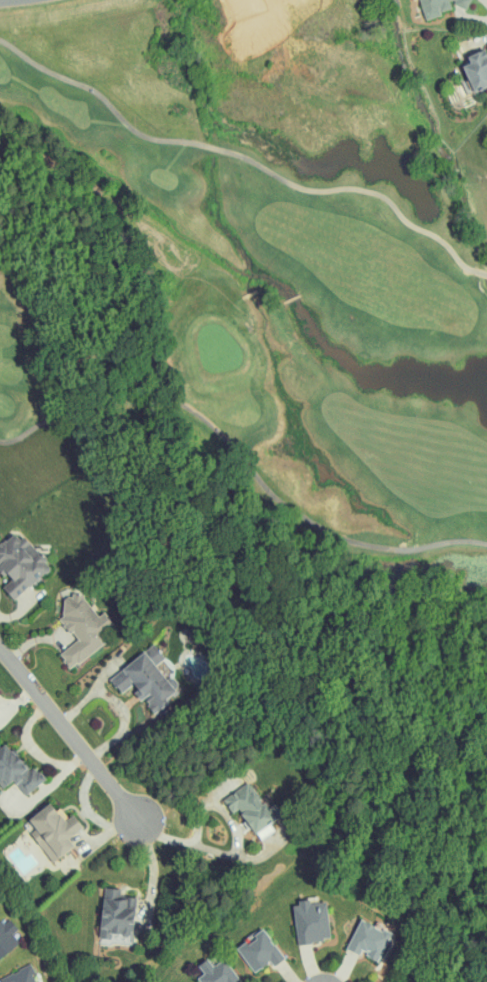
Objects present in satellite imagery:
road: (484, 2)
building: (439, 6)
road: (474, 44)
building: (477, 69)
park: (249, 271)
building: (20, 564)
building: (81, 627)
building: (146, 679)
road: (71, 732)
building: (14, 770)
road: (220, 806)
building: (249, 807)
building: (53, 831)
road: (208, 849)
building: (116, 915)
building: (311, 922)
building: (7, 936)
building: (368, 940)
building: (259, 951)
road: (314, 969)
building: (216, 972)
road: (341, 972)
building: (21, 975)
road: (294, 978)

